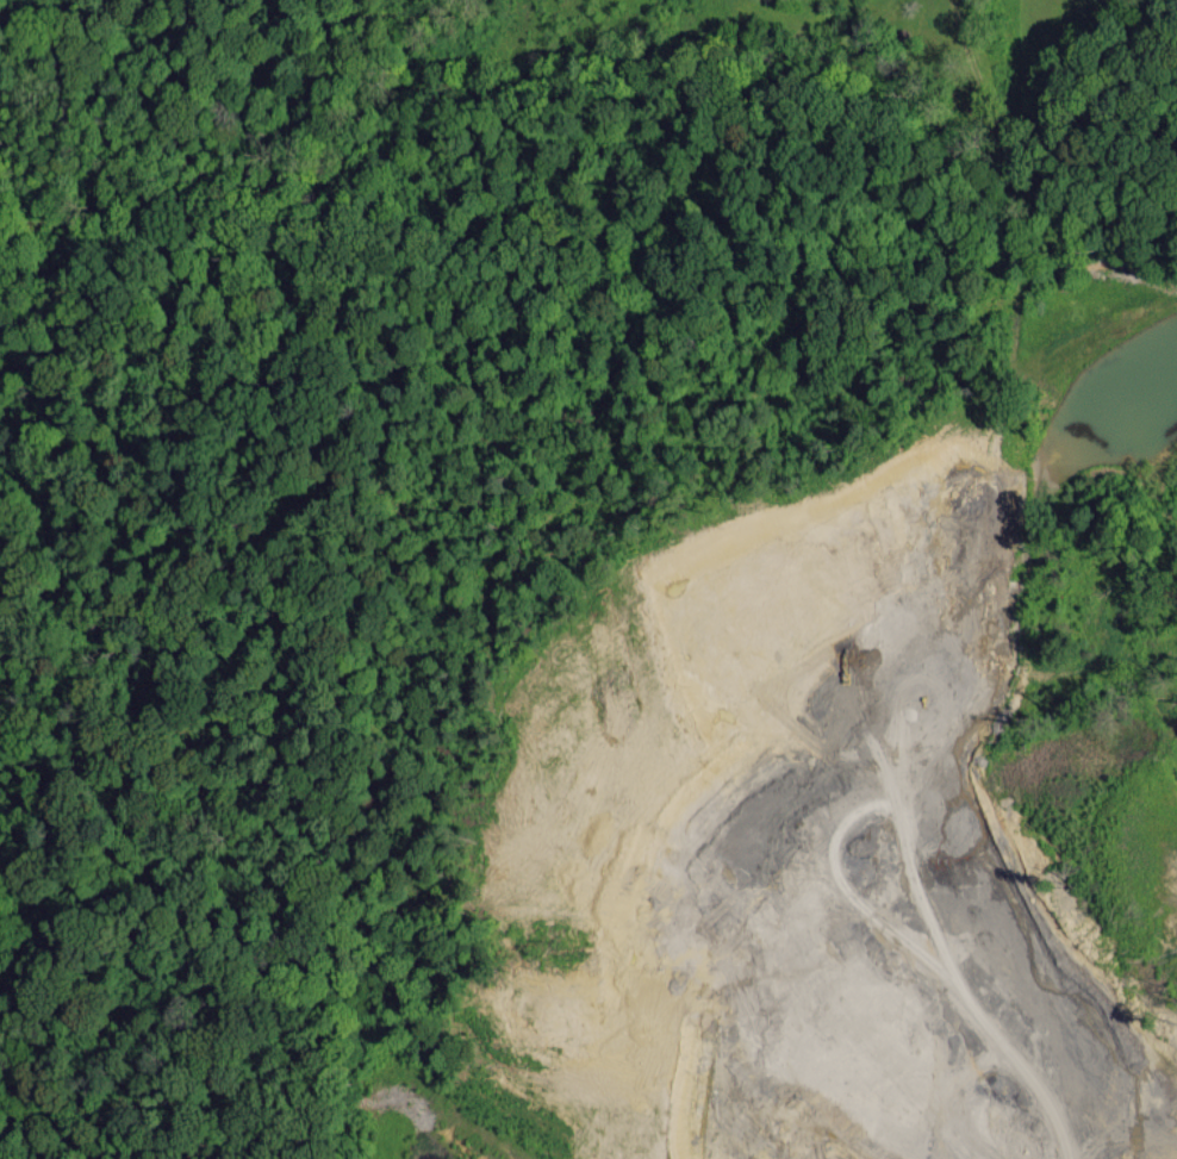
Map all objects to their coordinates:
road: (982, 361)

